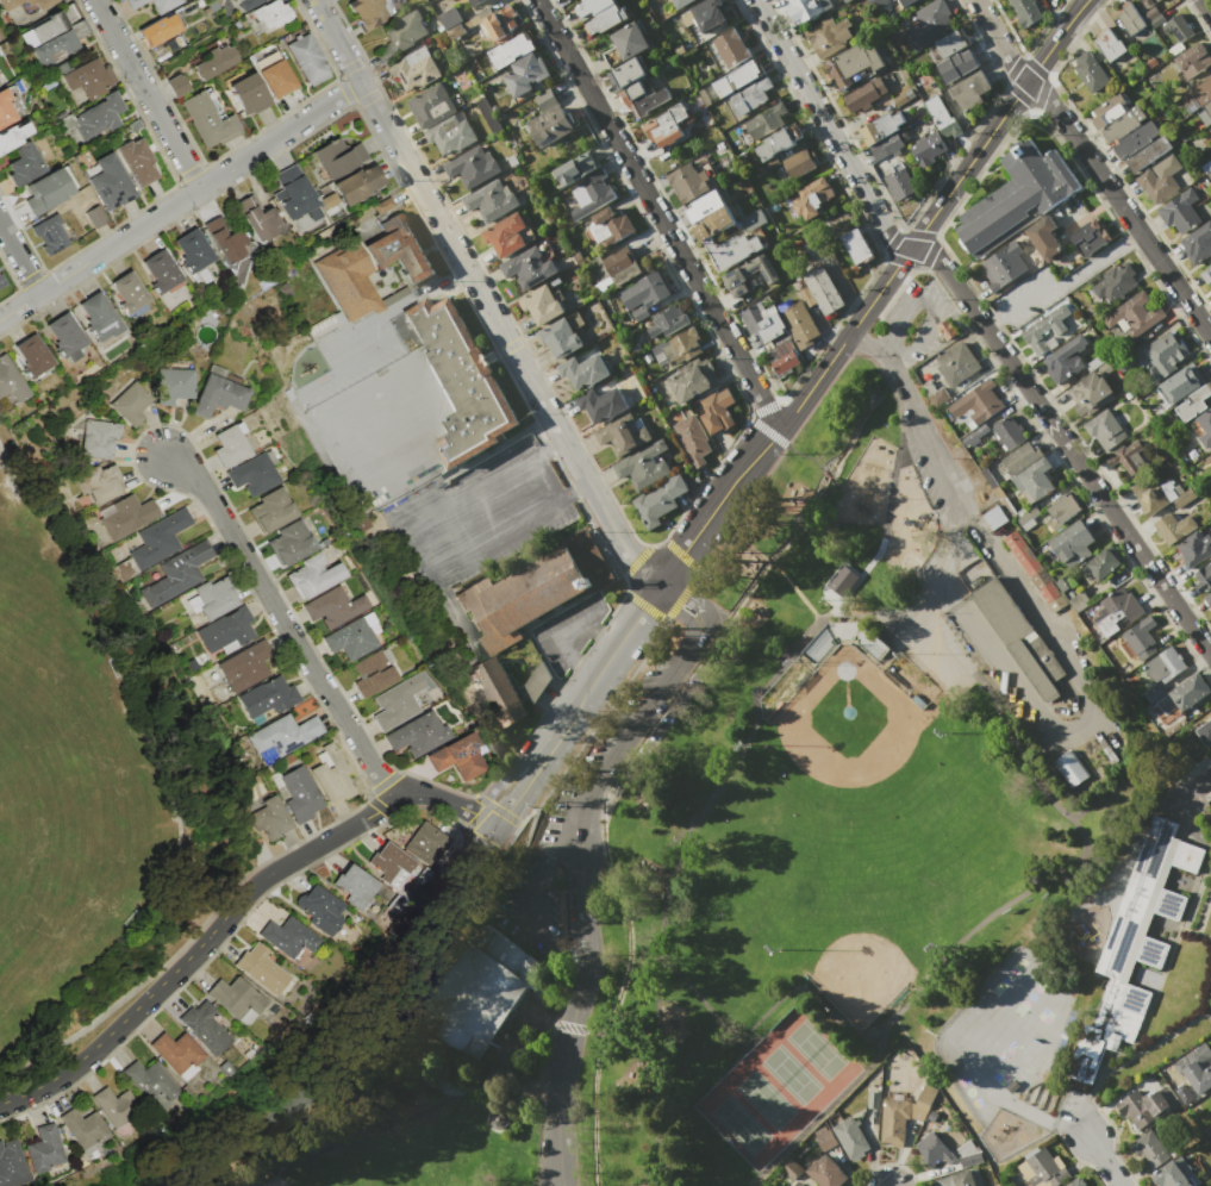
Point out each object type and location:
building: (843, 0)
building: (1157, 0)
building: (474, 1)
building: (570, 1)
building: (904, 2)
building: (1147, 2)
building: (133, 4)
building: (681, 4)
building: (163, 5)
building: (248, 5)
road: (1206, 6)
building: (7, 8)
building: (806, 8)
building: (372, 12)
building: (1025, 12)
building: (709, 13)
building: (1150, 13)
building: (601, 14)
building: (271, 15)
building: (1131, 18)
building: (1156, 20)
building: (71, 21)
building: (501, 21)
building: (451, 23)
building: (929, 24)
building: (49, 26)
building: (1178, 29)
building: (158, 30)
building: (401, 35)
building: (826, 36)
building: (625, 43)
building: (953, 43)
building: (1110, 44)
building: (55, 48)
building: (730, 48)
building: (510, 50)
building: (307, 58)
building: (1192, 60)
building: (216, 62)
building: (853, 63)
building: (956, 65)
building: (414, 68)
building: (1090, 71)
building: (624, 73)
building: (524, 74)
building: (89, 77)
building: (736, 77)
building: (276, 80)
building: (177, 85)
building: (969, 90)
building: (249, 93)
road: (146, 94)
building: (863, 94)
building: (750, 95)
building: (1197, 95)
building: (903, 96)
building: (641, 98)
building: (543, 99)
building: (431, 105)
building: (5, 108)
building: (937, 112)
building: (1204, 112)
building: (488, 114)
building: (95, 117)
building: (207, 118)
building: (1116, 118)
building: (766, 121)
building: (548, 125)
building: (666, 125)
building: (133, 126)
building: (880, 127)
road: (826, 129)
building: (950, 130)
building: (451, 133)
building: (13, 136)
building: (1135, 139)
building: (774, 144)
building: (886, 146)
building: (928, 148)
building: (1149, 152)
building: (337, 157)
building: (512, 160)
building: (136, 161)
building: (798, 163)
building: (24, 164)
building: (472, 167)
road: (1093, 168)
building: (1206, 168)
building: (575, 169)
building: (1160, 179)
building: (111, 183)
building: (357, 183)
building: (687, 183)
building: (900, 185)
building: (46, 192)
building: (293, 193)
building: (591, 195)
building: (812, 198)
building: (1016, 198)
building: (330, 200)
building: (489, 200)
road: (180, 201)
building: (704, 206)
building: (1180, 212)
road: (657, 216)
building: (95, 217)
building: (257, 217)
building: (753, 219)
building: (713, 223)
building: (608, 225)
building: (49, 233)
building: (505, 235)
building: (1088, 236)
building: (225, 238)
building: (1044, 238)
building: (1198, 243)
building: (856, 245)
building: (192, 250)
building: (400, 250)
building: (731, 250)
road: (18, 262)
building: (1003, 264)
building: (529, 267)
building: (612, 269)
building: (161, 271)
building: (748, 274)
building: (1206, 275)
building: (348, 279)
building: (1, 281)
building: (1116, 283)
road: (1066, 287)
building: (820, 288)
building: (127, 292)
road: (481, 294)
building: (643, 294)
building: (541, 304)
building: (1135, 313)
building: (98, 317)
building: (667, 320)
building: (762, 322)
building: (798, 322)
building: (1044, 330)
building: (64, 336)
building: (560, 338)
building: (676, 348)
building: (32, 355)
building: (781, 356)
building: (1165, 356)
road: (830, 360)
building: (1065, 360)
building: (956, 363)
building: (582, 370)
building: (693, 380)
building: (461, 381)
building: (11, 382)
building: (1180, 383)
building: (173, 385)
building: (217, 393)
building: (935, 393)
building: (1088, 394)
building: (978, 401)
building: (603, 402)
building: (1193, 402)
building: (130, 404)
building: (717, 411)
building: (1205, 427)
building: (1105, 431)
building: (1007, 432)
building: (623, 435)
building: (973, 437)
building: (99, 438)
building: (693, 439)
building: (229, 445)
road: (1066, 447)
road: (807, 452)
building: (1129, 458)
building: (1019, 460)
building: (643, 464)
building: (254, 473)
road: (828, 474)
building: (1032, 480)
road: (836, 482)
building: (99, 483)
building: (1162, 497)
building: (660, 500)
road: (953, 501)
building: (1062, 507)
building: (270, 510)
building: (127, 516)
building: (995, 518)
road: (456, 525)
building: (1173, 525)
road: (741, 538)
building: (160, 539)
building: (289, 543)
building: (1073, 543)
building: (1194, 549)
building: (1022, 554)
road: (767, 558)
building: (1101, 563)
building: (177, 574)
building: (312, 576)
building: (841, 579)
building: (1041, 579)
building: (1204, 579)
road: (794, 589)
building: (1049, 592)
building: (213, 598)
building: (518, 599)
building: (1207, 599)
building: (1057, 601)
road: (699, 603)
building: (333, 607)
road: (679, 610)
building: (1117, 611)
road: (286, 624)
building: (839, 628)
building: (226, 630)
road: (564, 636)
building: (1018, 637)
building: (1141, 637)
building: (351, 639)
parking lot: (936, 648)
building: (245, 666)
building: (1162, 672)
road: (1074, 673)
building: (373, 674)
building: (535, 682)
building: (500, 692)
building: (1184, 694)
building: (268, 698)
building: (397, 701)
building: (1204, 734)
building: (286, 735)
building: (418, 736)
road: (743, 741)
building: (458, 757)
park: (854, 760)
building: (1069, 767)
road: (1131, 774)
building: (331, 775)
road: (531, 778)
parking lot: (603, 780)
road: (1194, 788)
building: (300, 794)
building: (269, 818)
road: (1103, 825)
park: (759, 834)
building: (426, 844)
road: (660, 853)
road: (544, 859)
building: (392, 866)
building: (354, 886)
road: (582, 897)
park: (855, 906)
building: (324, 912)
road: (229, 918)
road: (972, 926)
building: (287, 937)
building: (1134, 944)
building: (266, 972)
building: (476, 991)
building: (235, 999)
road: (573, 1024)
road: (553, 1025)
building: (205, 1028)
road: (345, 1031)
building: (180, 1054)
building: (1200, 1068)
road: (673, 1070)
road: (526, 1073)
road: (437, 1082)
building: (151, 1086)
park: (776, 1086)
road: (941, 1090)
road: (1090, 1097)
building: (925, 1098)
building: (873, 1099)
building: (1146, 1105)
building: (116, 1110)
building: (498, 1117)
building: (893, 1122)
building: (83, 1128)
road: (347, 1131)
building: (824, 1138)
building: (850, 1138)
building: (44, 1150)
building: (934, 1150)
building: (1150, 1150)
road: (1100, 1153)
building: (969, 1159)
building: (12, 1165)
park: (343, 1166)
building: (791, 1169)
building: (1043, 1169)
building: (828, 1173)
building: (1175, 1174)
building: (960, 1179)
building: (1075, 1182)
building: (803, 1185)

